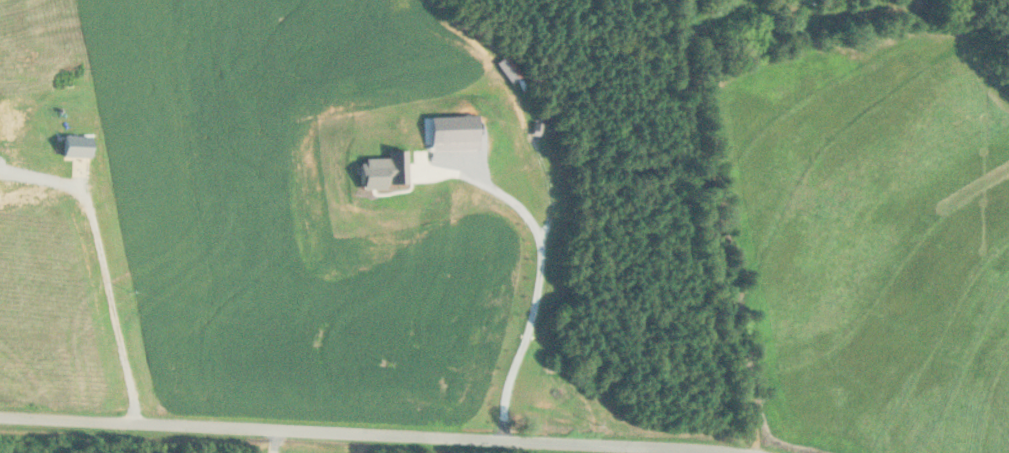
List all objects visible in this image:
road: (716, 15)
road: (715, 222)
road: (376, 432)

